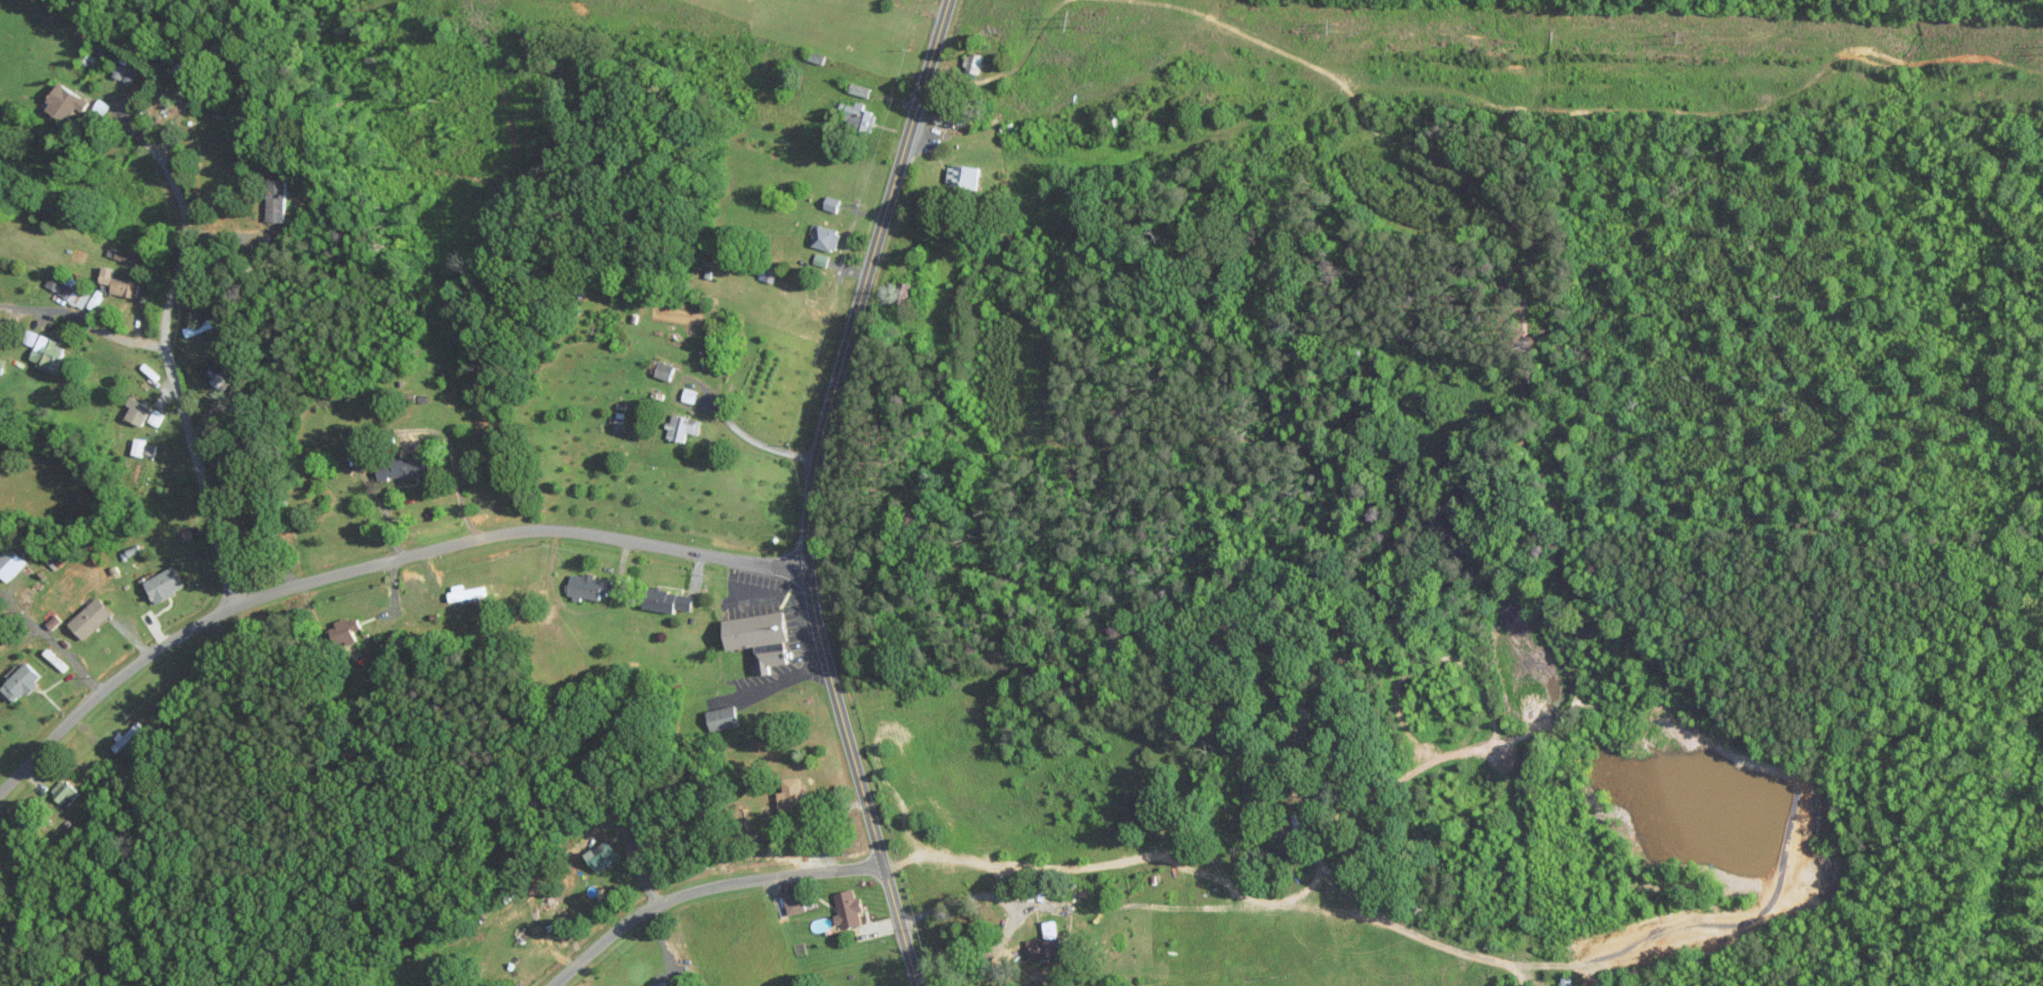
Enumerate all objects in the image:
power tower: (1074, 20)
power tower: (1336, 25)
power tower: (1683, 37)
building: (185, 70)
building: (859, 89)
building: (64, 102)
building: (857, 115)
building: (963, 175)
building: (275, 199)
building: (832, 203)
road: (186, 218)
building: (826, 238)
building: (126, 257)
building: (119, 283)
building: (75, 292)
road: (1061, 303)
road: (84, 321)
building: (29, 337)
building: (47, 354)
building: (664, 370)
building: (688, 395)
building: (135, 411)
building: (680, 426)
road: (391, 430)
road: (753, 438)
building: (141, 448)
building: (402, 468)
road: (199, 477)
road: (808, 490)
building: (10, 563)
road: (369, 566)
building: (162, 584)
building: (587, 586)
building: (668, 600)
building: (89, 618)
building: (343, 630)
building: (759, 638)
road: (50, 639)
building: (20, 682)
road: (27, 708)
building: (722, 717)
building: (64, 792)
building: (790, 794)
building: (1290, 828)
building: (604, 856)
road: (702, 887)
building: (793, 902)
building: (848, 909)
road: (1011, 912)

